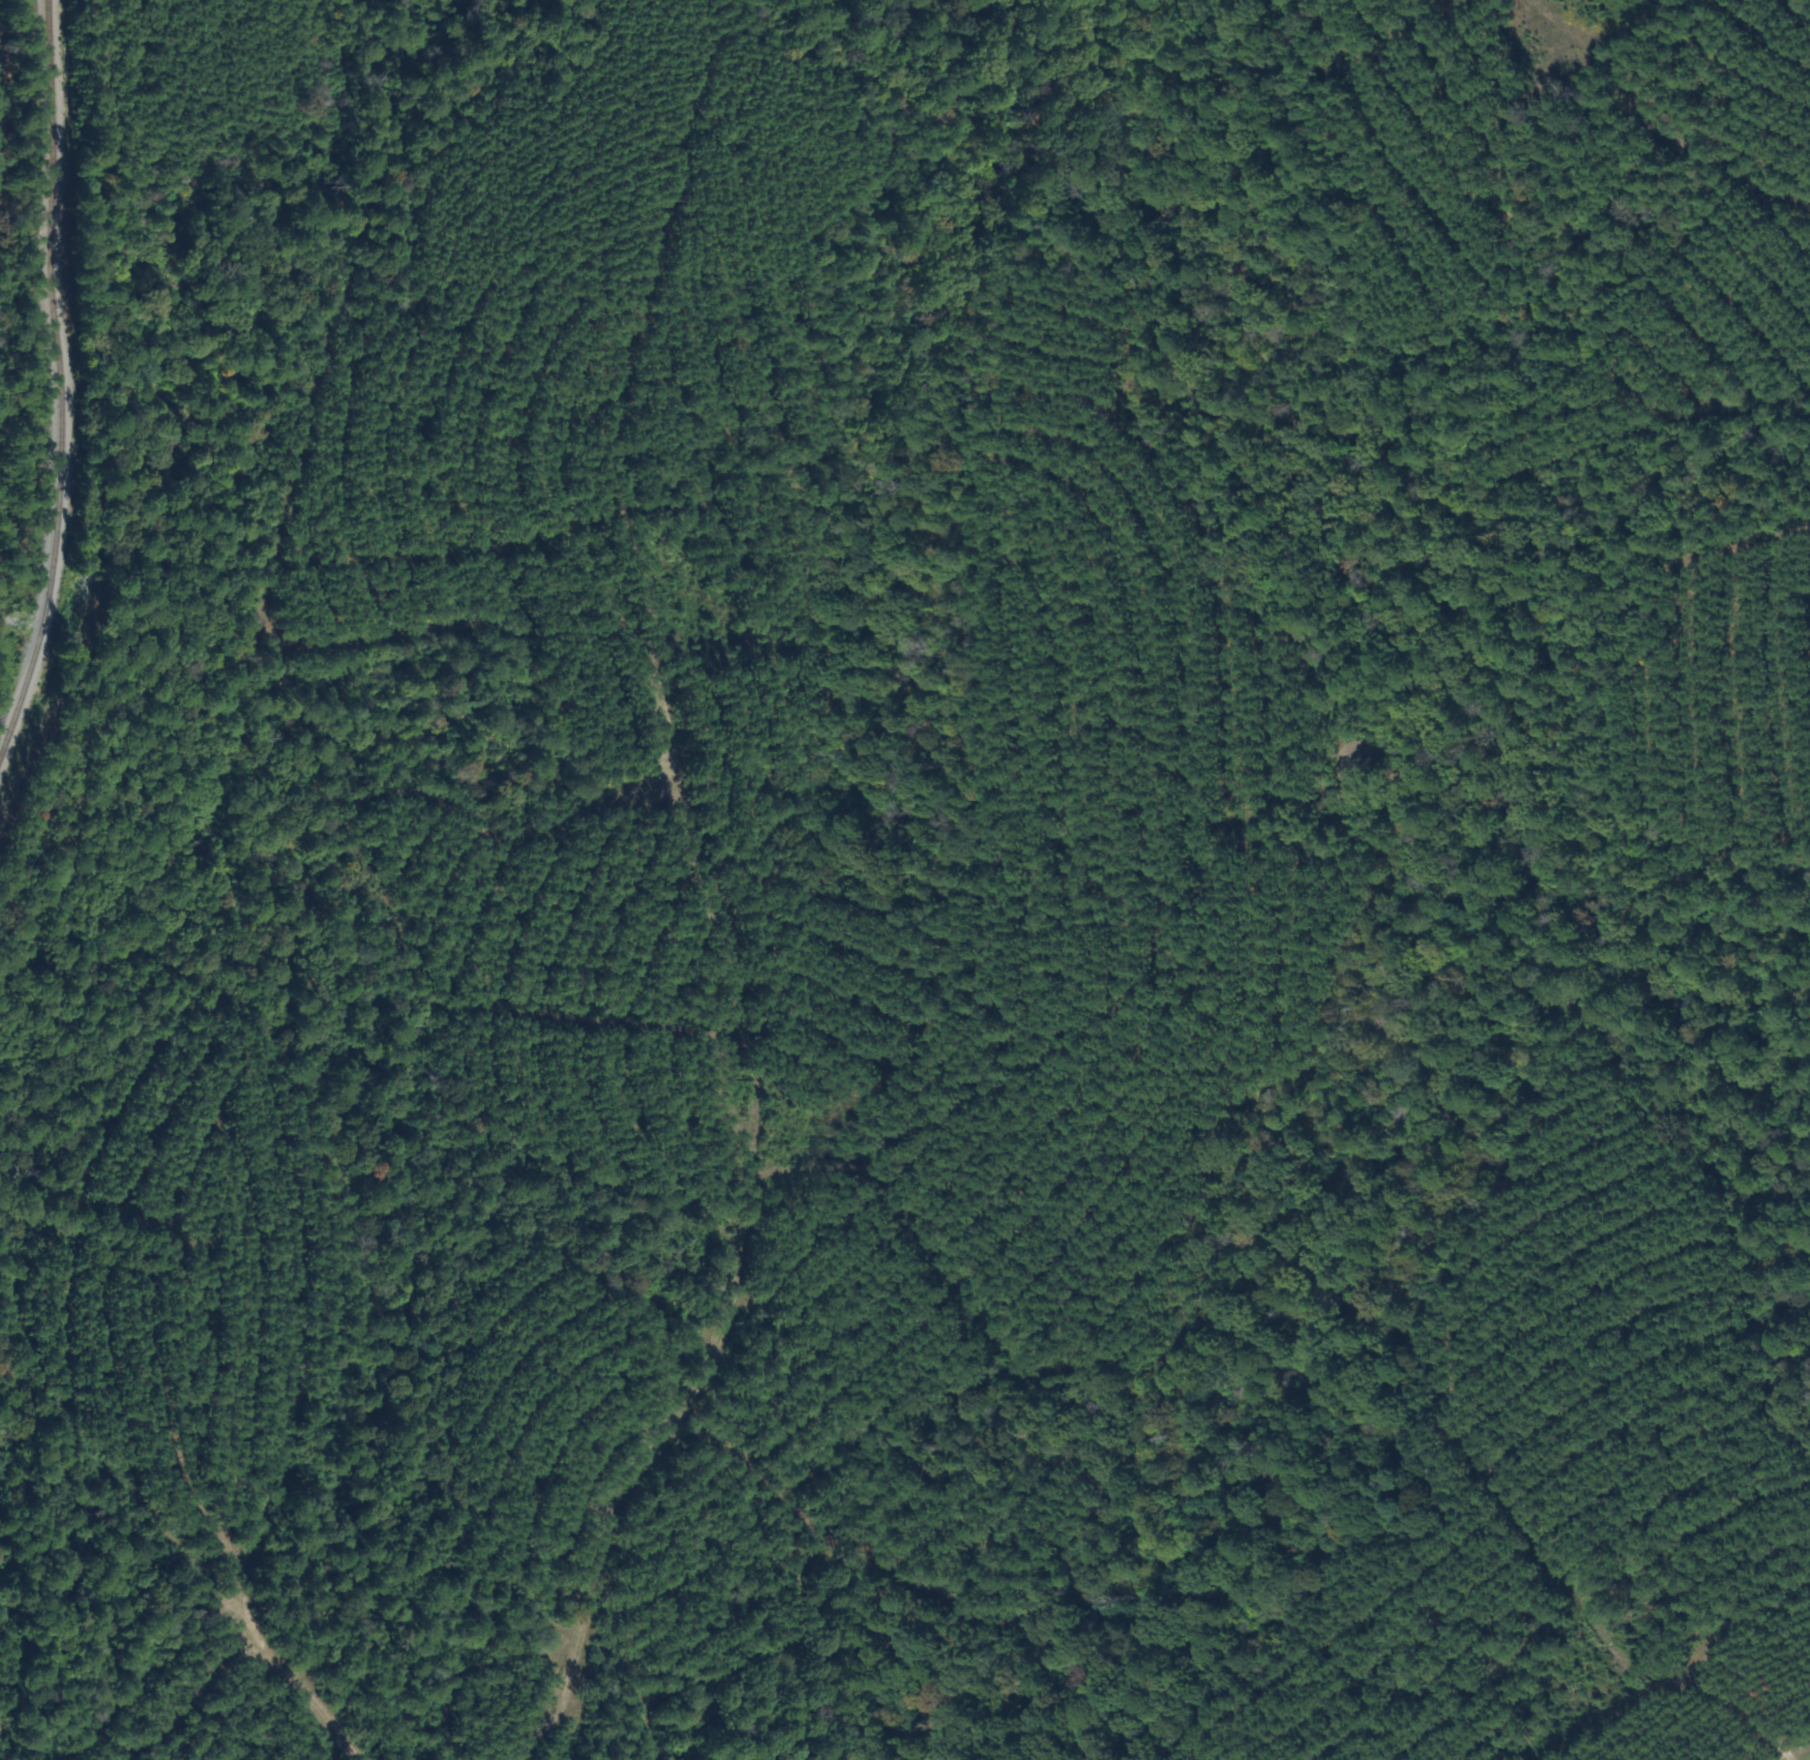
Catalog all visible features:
railway: (69, 386)

